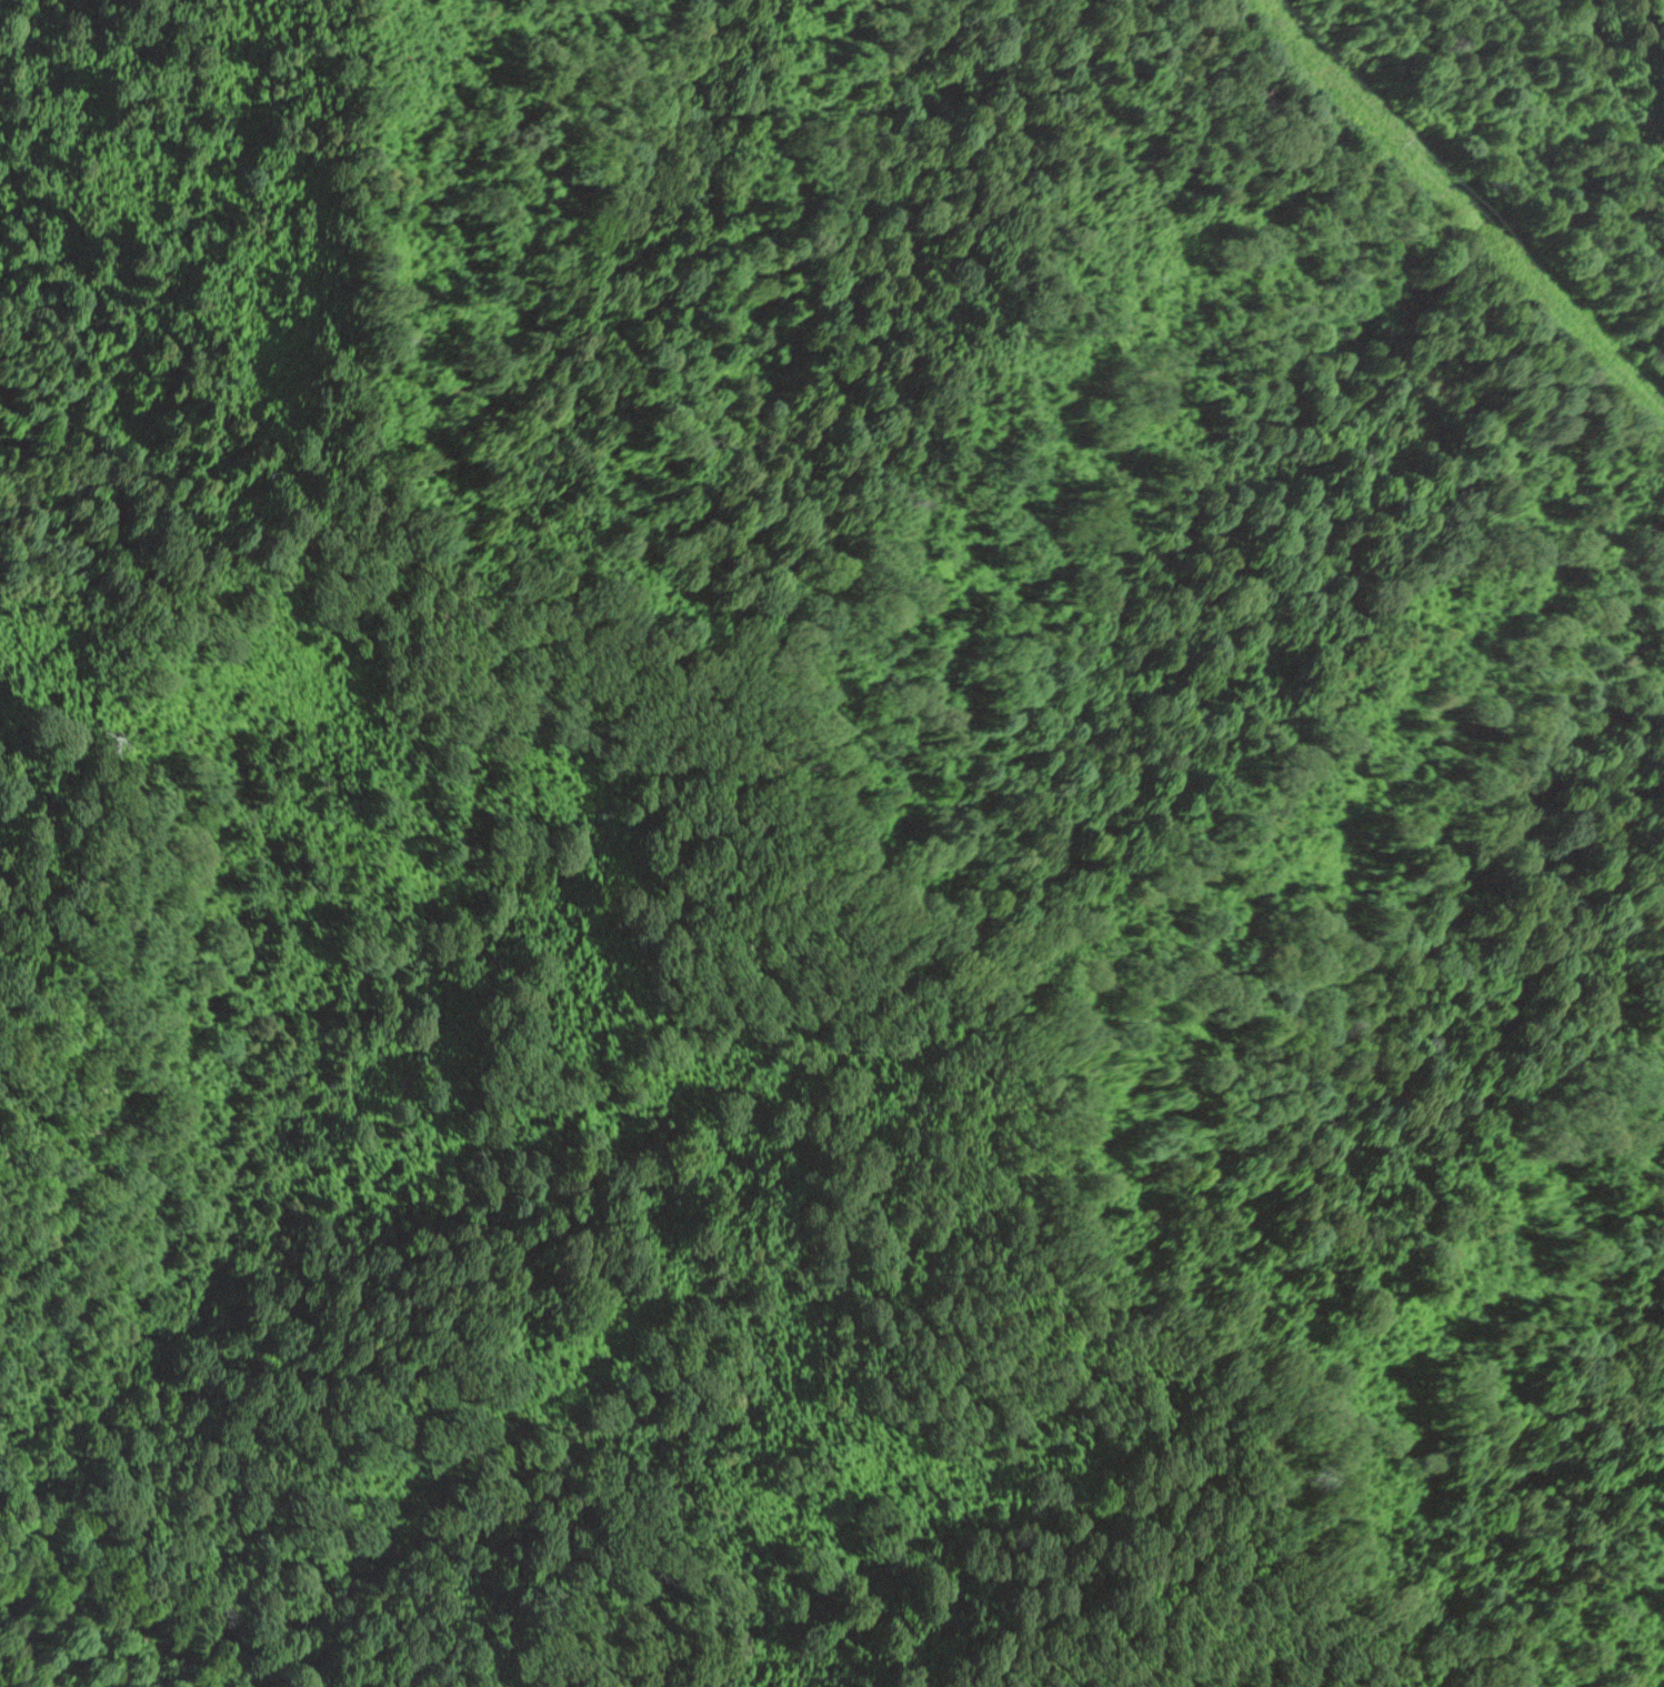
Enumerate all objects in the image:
building: (1650, 357)

